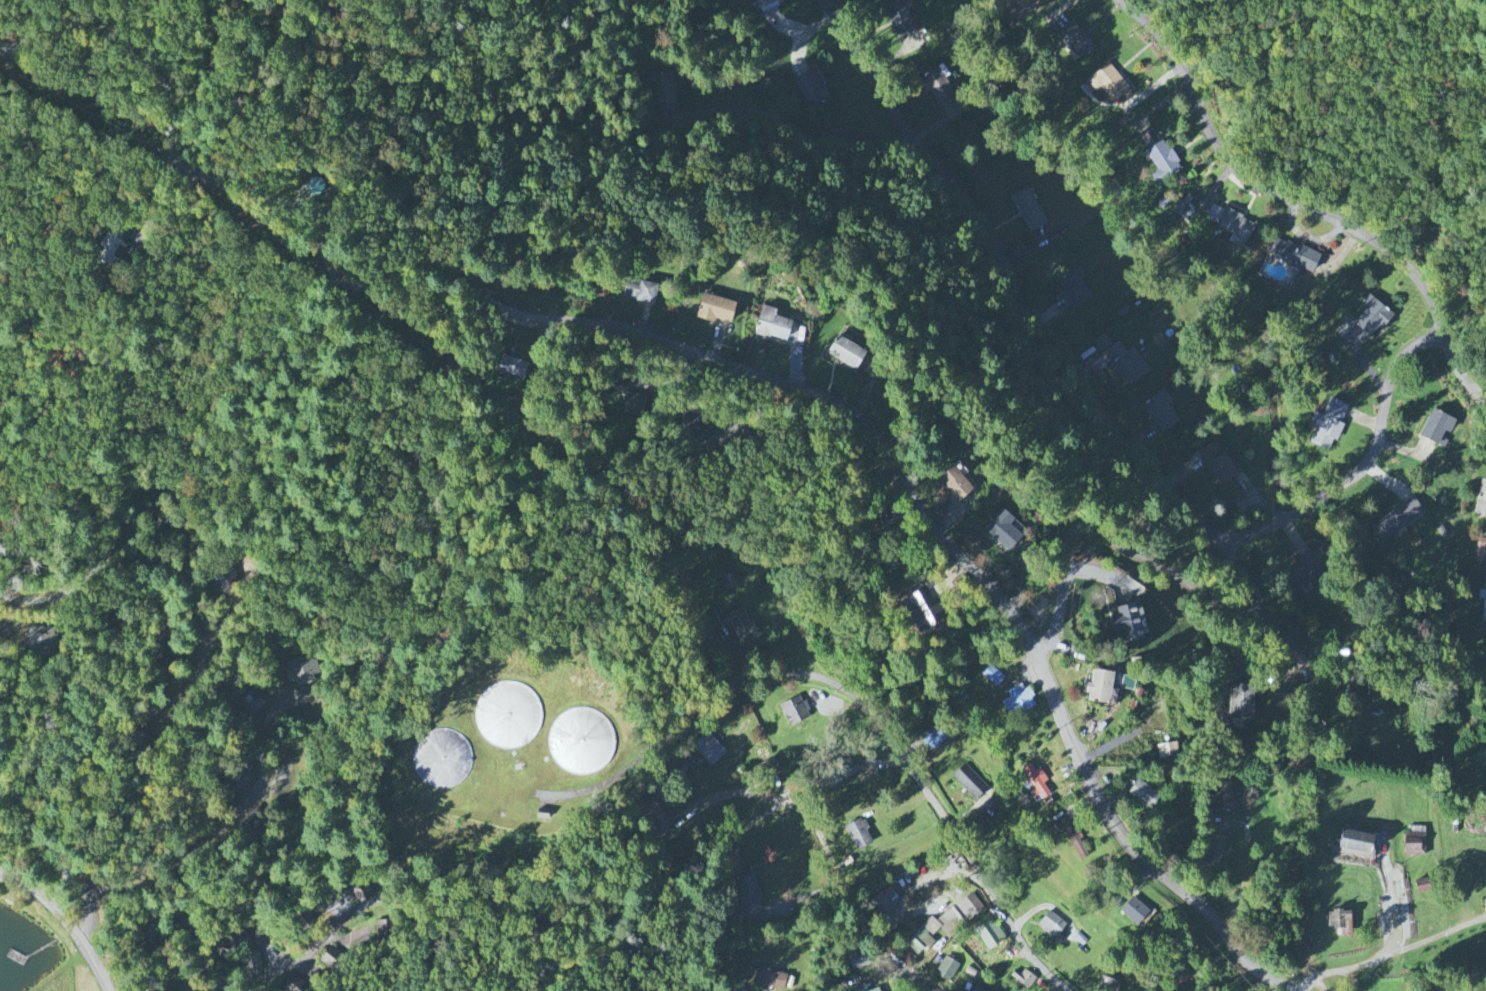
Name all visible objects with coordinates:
building: (765, 4)
building: (902, 26)
building: (1073, 41)
building: (940, 85)
building: (1109, 85)
building: (811, 89)
building: (661, 91)
road: (799, 127)
building: (1161, 162)
road: (1264, 188)
building: (1027, 211)
building: (1229, 222)
building: (117, 241)
building: (1294, 256)
building: (1072, 291)
building: (641, 292)
building: (714, 309)
building: (1372, 317)
building: (772, 326)
building: (846, 353)
road: (712, 358)
building: (1124, 362)
building: (511, 367)
road: (1460, 371)
building: (628, 401)
building: (1161, 413)
road: (1104, 416)
building: (1330, 425)
building: (1437, 429)
building: (698, 431)
building: (1217, 464)
building: (956, 484)
building: (1481, 501)
building: (887, 518)
building: (1397, 521)
building: (1002, 530)
road: (1116, 539)
building: (1485, 559)
building: (1311, 566)
road: (1247, 583)
building: (224, 584)
building: (1483, 602)
building: (917, 612)
building: (1130, 623)
building: (742, 625)
road: (203, 627)
road: (1287, 638)
building: (42, 641)
building: (302, 670)
building: (1100, 689)
building: (253, 701)
building: (1017, 702)
building: (1241, 706)
building: (795, 712)
building: (509, 714)
storage tank: (509, 714)
building: (584, 740)
storage tank: (584, 740)
road: (893, 745)
building: (709, 750)
building: (1168, 752)
building: (443, 757)
storage tank: (443, 757)
building: (242, 778)
building: (1037, 782)
building: (969, 783)
road: (598, 785)
building: (1143, 795)
building: (1224, 797)
building: (545, 813)
building: (659, 824)
road: (230, 825)
road: (749, 826)
road: (1247, 829)
building: (858, 835)
building: (1075, 841)
building: (1415, 844)
building: (1354, 845)
road: (828, 851)
building: (361, 893)
building: (747, 896)
road: (789, 901)
building: (884, 901)
road: (902, 903)
building: (969, 907)
road: (1392, 907)
building: (1134, 911)
road: (66, 921)
building: (1340, 922)
road: (886, 925)
building: (944, 925)
building: (1051, 925)
building: (990, 935)
building: (240, 941)
building: (920, 943)
road: (307, 956)
road: (1390, 956)
building: (251, 961)
building: (857, 961)
building: (947, 970)
building: (1022, 979)
building: (769, 980)
building: (1108, 985)
building: (293, 986)
road: (930, 986)
building: (979, 988)
building: (862, 989)
building: (877, 990)

